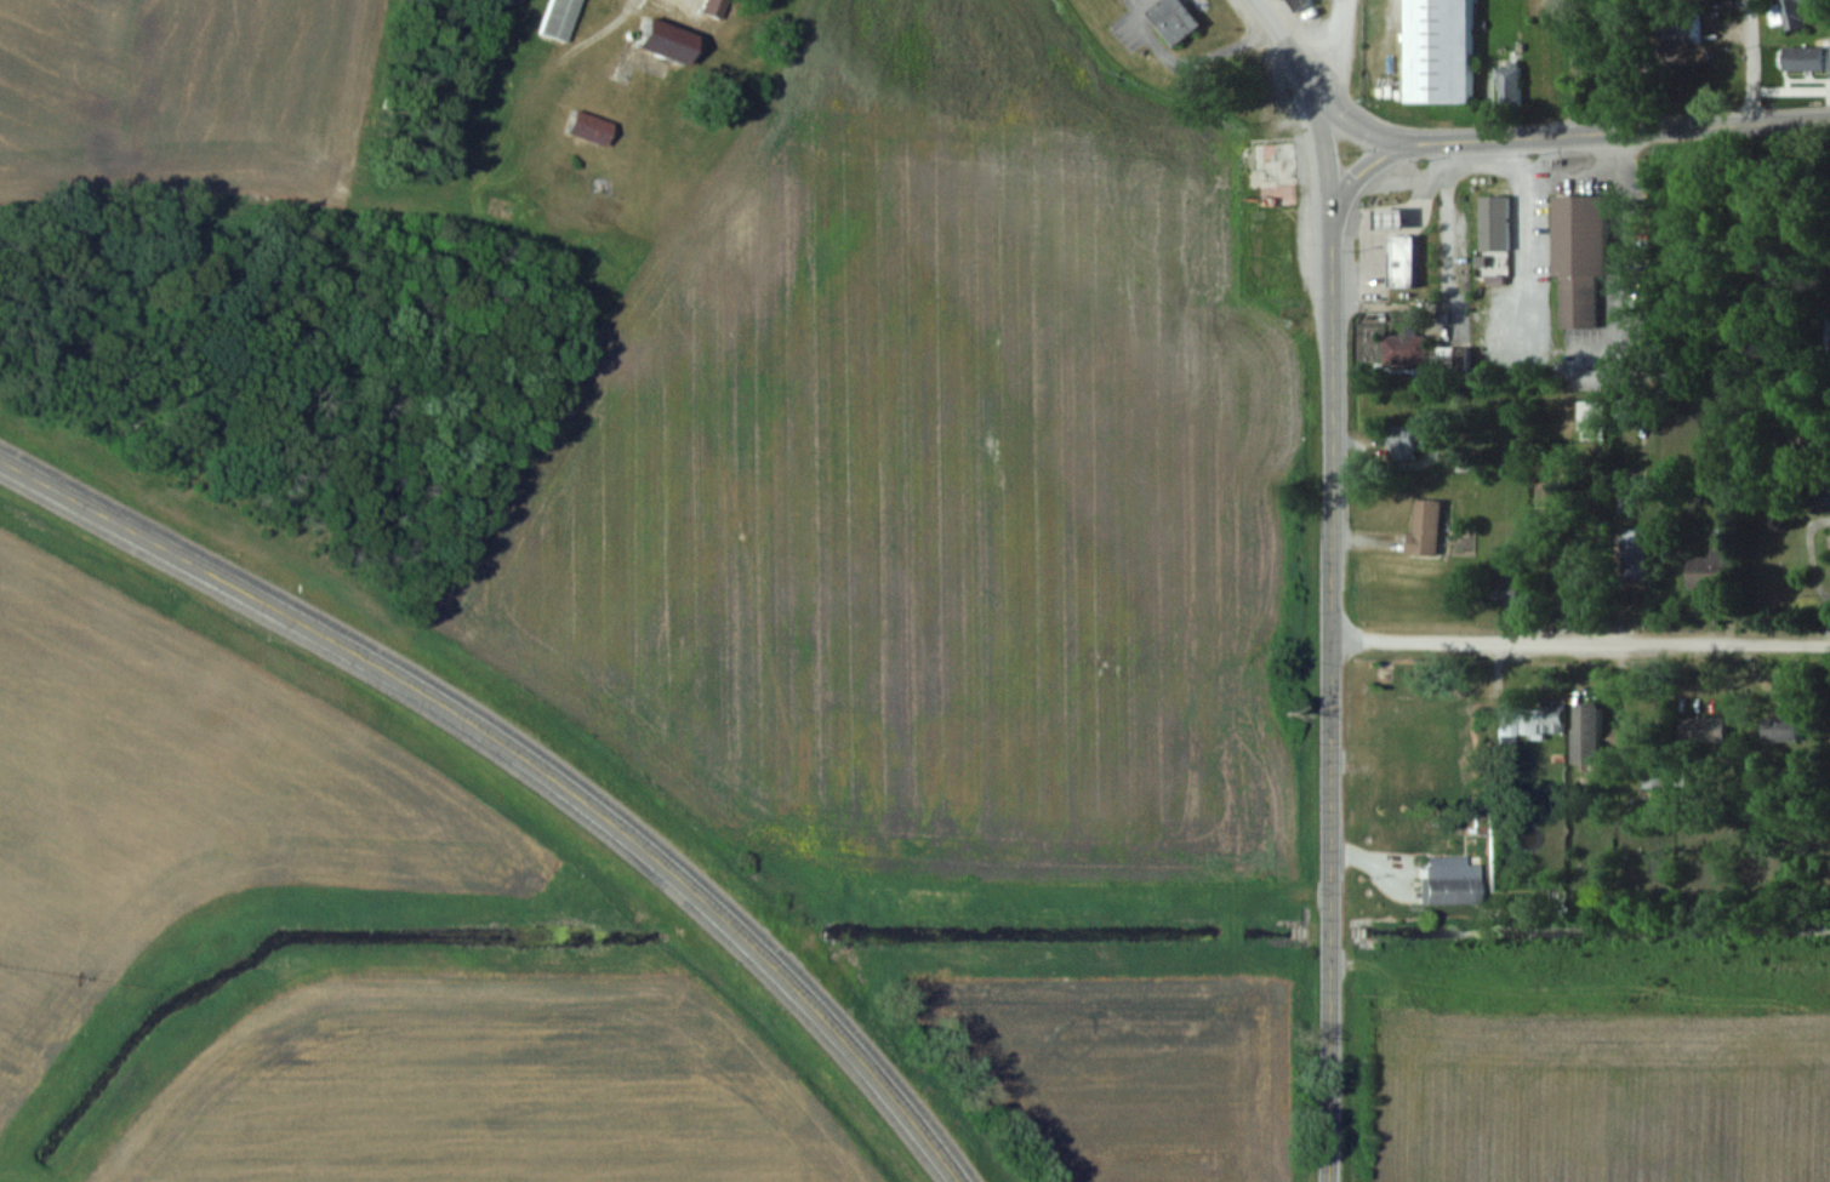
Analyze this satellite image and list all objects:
building: (1299, 4)
building: (712, 7)
building: (1792, 13)
building: (558, 18)
building: (1175, 19)
building: (663, 40)
road: (1328, 45)
building: (1440, 51)
building: (1803, 59)
road: (1751, 61)
road: (1299, 73)
building: (1507, 86)
building: (587, 127)
road: (1586, 131)
building: (1281, 164)
building: (1392, 218)
building: (1494, 223)
road: (1448, 230)
road: (1521, 238)
building: (1581, 257)
building: (1402, 261)
building: (1404, 349)
building: (1444, 359)
building: (1591, 421)
building: (1399, 442)
building: (1547, 490)
building: (1819, 495)
building: (1426, 529)
building: (1632, 560)
building: (1709, 571)
building: (1509, 587)
road: (1581, 644)
road: (1333, 664)
building: (1529, 716)
building: (1779, 730)
building: (1591, 736)
building: (1714, 740)
road: (525, 759)
building: (1450, 885)

